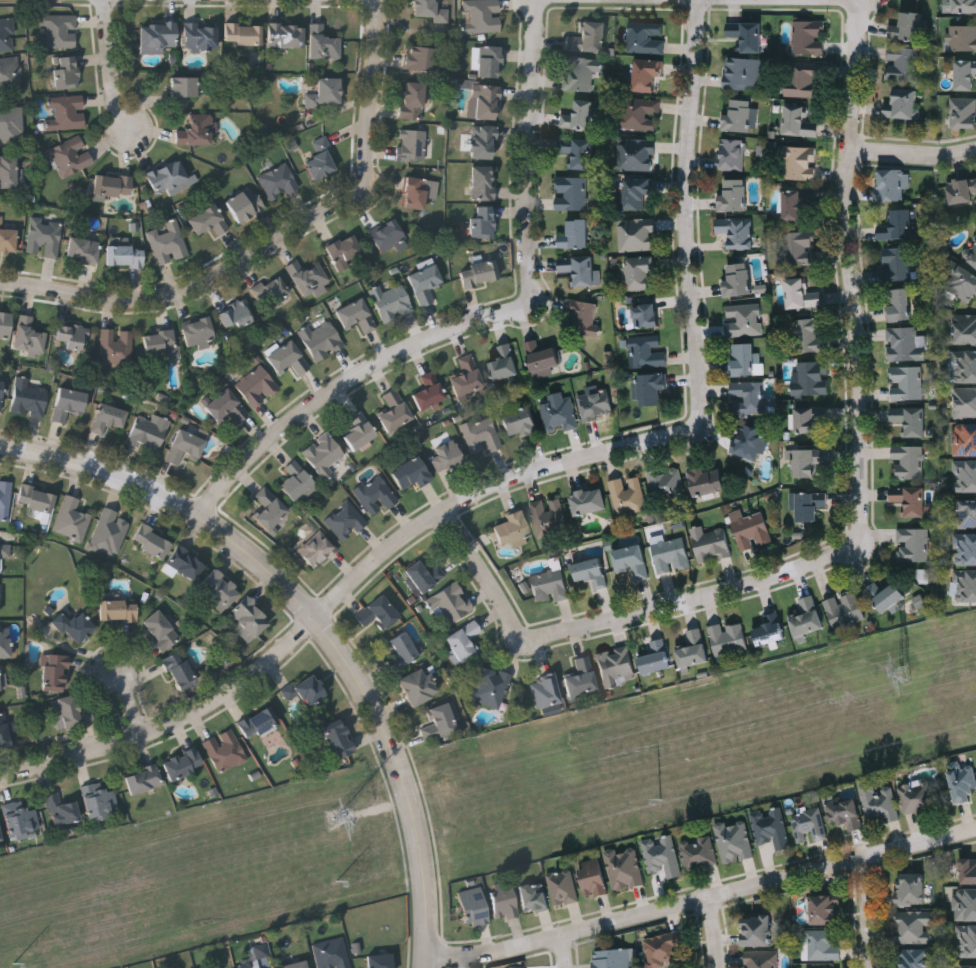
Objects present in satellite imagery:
building: (960, 5)
building: (430, 10)
building: (482, 16)
building: (908, 25)
building: (58, 32)
building: (244, 33)
building: (747, 33)
building: (287, 34)
building: (7, 35)
building: (201, 35)
building: (159, 36)
building: (647, 36)
building: (809, 36)
building: (962, 36)
building: (586, 37)
building: (323, 42)
building: (419, 57)
building: (490, 60)
building: (902, 62)
road: (114, 69)
building: (581, 71)
building: (67, 72)
building: (646, 72)
building: (743, 72)
building: (966, 72)
building: (7, 74)
building: (804, 78)
building: (185, 91)
building: (325, 92)
road: (373, 93)
building: (413, 99)
building: (485, 101)
building: (904, 103)
building: (66, 111)
building: (639, 111)
building: (963, 112)
building: (579, 114)
building: (738, 114)
building: (11, 121)
building: (799, 121)
building: (197, 131)
building: (482, 141)
building: (412, 145)
building: (579, 150)
building: (637, 153)
building: (733, 153)
road: (914, 153)
building: (70, 156)
building: (322, 159)
building: (799, 161)
building: (10, 172)
building: (170, 177)
building: (279, 181)
building: (483, 183)
building: (890, 184)
building: (114, 185)
building: (962, 189)
building: (420, 191)
building: (637, 191)
building: (571, 192)
building: (734, 194)
building: (796, 202)
building: (245, 204)
building: (208, 220)
building: (484, 221)
building: (898, 224)
building: (737, 230)
building: (575, 233)
building: (636, 233)
building: (389, 236)
building: (7, 237)
building: (45, 237)
building: (168, 243)
building: (800, 247)
building: (344, 248)
building: (83, 249)
building: (971, 252)
building: (125, 254)
building: (898, 263)
building: (580, 269)
building: (641, 272)
road: (852, 272)
building: (479, 273)
building: (308, 275)
building: (738, 278)
building: (425, 282)
building: (963, 282)
road: (195, 288)
building: (271, 291)
building: (802, 293)
building: (392, 300)
building: (900, 304)
building: (235, 314)
building: (646, 314)
building: (357, 315)
building: (582, 316)
road: (485, 319)
building: (745, 319)
building: (5, 324)
building: (965, 327)
building: (199, 332)
building: (811, 335)
building: (30, 336)
building: (74, 336)
building: (322, 340)
building: (906, 343)
building: (161, 344)
building: (116, 346)
building: (647, 351)
building: (542, 356)
building: (288, 357)
building: (747, 358)
building: (505, 361)
building: (966, 365)
building: (467, 376)
building: (810, 377)
building: (906, 381)
building: (258, 385)
building: (649, 386)
building: (429, 390)
building: (1, 393)
building: (748, 396)
building: (29, 398)
building: (965, 401)
building: (69, 403)
building: (596, 403)
building: (227, 406)
building: (394, 411)
building: (560, 412)
building: (810, 416)
building: (108, 417)
building: (911, 418)
building: (521, 421)
building: (360, 430)
building: (148, 431)
building: (482, 435)
building: (965, 438)
building: (751, 441)
building: (185, 446)
building: (324, 453)
building: (446, 455)
building: (909, 459)
building: (809, 460)
building: (412, 472)
building: (964, 474)
road: (521, 475)
building: (706, 479)
building: (296, 480)
building: (666, 482)
building: (376, 494)
building: (628, 494)
building: (5, 497)
building: (36, 498)
building: (911, 498)
building: (589, 500)
building: (810, 504)
building: (270, 507)
building: (967, 511)
building: (548, 514)
building: (72, 518)
building: (346, 520)
building: (512, 529)
building: (752, 530)
building: (110, 531)
building: (152, 541)
building: (711, 543)
building: (914, 543)
building: (966, 548)
building: (317, 549)
building: (670, 553)
building: (4, 554)
building: (632, 559)
building: (186, 563)
building: (591, 571)
building: (424, 575)
building: (965, 584)
building: (549, 585)
building: (219, 590)
building: (888, 596)
building: (450, 604)
building: (845, 609)
building: (118, 610)
building: (378, 612)
road: (623, 615)
building: (807, 616)
building: (247, 619)
road: (319, 619)
building: (74, 626)
building: (770, 629)
building: (161, 630)
building: (729, 637)
building: (464, 640)
building: (5, 641)
building: (693, 648)
building: (402, 650)
building: (656, 656)
building: (615, 664)
building: (179, 670)
building: (55, 672)
power tower: (900, 674)
building: (582, 677)
building: (3, 679)
building: (491, 685)
building: (418, 686)
building: (305, 689)
building: (545, 690)
road: (131, 704)
building: (71, 712)
building: (440, 721)
building: (259, 722)
building: (4, 730)
building: (338, 739)
building: (226, 750)
building: (183, 764)
building: (143, 779)
building: (962, 779)
building: (919, 796)
building: (100, 801)
building: (879, 802)
building: (62, 808)
building: (844, 812)
power tower: (332, 817)
building: (21, 819)
building: (809, 825)
building: (771, 827)
building: (0, 837)
building: (734, 840)
building: (698, 852)
building: (662, 856)
building: (624, 868)
building: (968, 870)
building: (593, 877)
building: (562, 887)
building: (911, 888)
building: (534, 897)
road: (704, 897)
building: (504, 902)
building: (965, 904)
building: (473, 906)
building: (825, 910)
road: (869, 912)
building: (915, 926)
building: (757, 929)
road: (716, 932)
building: (967, 940)
building: (823, 944)
building: (663, 948)
road: (564, 952)
building: (332, 954)
building: (613, 958)
building: (915, 958)
building: (761, 959)
building: (380, 961)
building: (296, 964)
building: (247, 965)
building: (968, 966)

